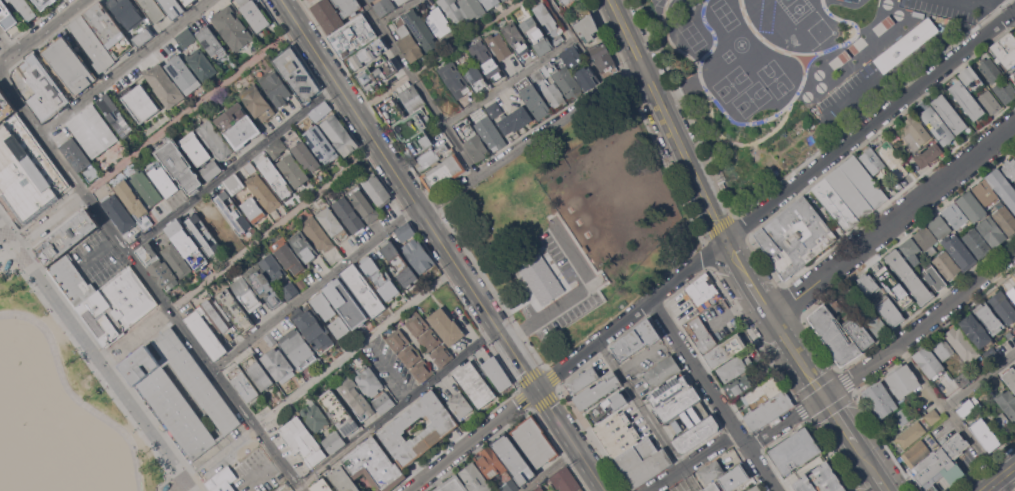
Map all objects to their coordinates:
building: (9, 0)
building: (371, 0)
building: (504, 0)
building: (189, 2)
building: (565, 2)
building: (45, 3)
building: (490, 3)
road: (297, 5)
building: (384, 6)
building: (173, 7)
building: (348, 7)
road: (982, 7)
building: (473, 8)
building: (25, 9)
building: (152, 9)
building: (128, 12)
road: (396, 12)
building: (455, 13)
building: (254, 14)
building: (7, 15)
building: (328, 15)
building: (545, 17)
building: (954, 18)
building: (439, 21)
building: (231, 27)
building: (587, 27)
building: (108, 29)
building: (421, 29)
road: (41, 33)
building: (352, 35)
building: (143, 37)
building: (186, 38)
building: (516, 39)
building: (558, 40)
building: (408, 41)
building: (92, 42)
building: (212, 43)
road: (7, 44)
road: (578, 44)
building: (542, 45)
building: (906, 45)
building: (498, 46)
building: (1005, 49)
building: (368, 53)
building: (571, 55)
road: (443, 56)
building: (602, 58)
building: (487, 60)
building: (200, 63)
building: (70, 65)
road: (124, 66)
building: (990, 69)
building: (296, 73)
building: (183, 74)
building: (377, 74)
building: (1013, 76)
building: (476, 77)
building: (454, 78)
building: (586, 78)
building: (970, 78)
building: (566, 82)
building: (163, 83)
road: (510, 83)
building: (276, 87)
road: (419, 87)
building: (43, 88)
building: (549, 88)
building: (1005, 91)
building: (410, 96)
building: (533, 98)
building: (966, 100)
building: (988, 101)
building: (140, 102)
building: (257, 102)
building: (5, 107)
building: (494, 109)
building: (320, 110)
building: (391, 113)
building: (949, 113)
building: (115, 115)
building: (515, 120)
building: (238, 125)
road: (869, 125)
building: (937, 125)
building: (411, 127)
building: (917, 130)
building: (93, 131)
building: (489, 132)
road: (159, 134)
building: (339, 134)
building: (906, 136)
road: (532, 138)
building: (214, 139)
road: (678, 140)
building: (475, 142)
building: (418, 143)
building: (321, 144)
building: (276, 147)
building: (195, 148)
building: (303, 152)
building: (76, 154)
building: (928, 155)
building: (430, 156)
building: (892, 158)
building: (263, 160)
building: (872, 160)
building: (178, 164)
road: (233, 168)
building: (251, 168)
building: (212, 169)
building: (293, 169)
building: (1010, 169)
building: (27, 172)
building: (443, 173)
building: (274, 178)
building: (163, 180)
building: (234, 184)
building: (857, 187)
building: (1003, 187)
building: (1014, 187)
building: (146, 188)
building: (378, 191)
building: (263, 192)
building: (986, 192)
building: (131, 198)
building: (364, 203)
building: (835, 204)
building: (972, 206)
building: (253, 209)
building: (232, 211)
building: (119, 212)
building: (956, 215)
building: (349, 216)
building: (1005, 218)
road: (894, 221)
building: (332, 224)
building: (940, 227)
building: (405, 231)
building: (992, 232)
building: (317, 234)
building: (204, 235)
building: (67, 237)
building: (795, 237)
building: (927, 241)
building: (977, 243)
building: (188, 244)
road: (443, 245)
building: (0, 246)
building: (303, 246)
road: (97, 249)
building: (911, 250)
building: (959, 251)
building: (146, 252)
road: (244, 253)
building: (287, 255)
building: (418, 255)
building: (176, 260)
building: (8, 263)
building: (399, 263)
building: (899, 263)
building: (947, 265)
building: (273, 267)
building: (1014, 273)
building: (163, 274)
building: (380, 277)
building: (541, 277)
building: (935, 278)
building: (72, 282)
road: (150, 282)
building: (891, 282)
building: (301, 283)
building: (868, 283)
building: (263, 284)
parking lot: (586, 284)
road: (316, 287)
building: (918, 287)
building: (702, 289)
building: (290, 290)
building: (363, 290)
building: (246, 293)
road: (576, 293)
road: (761, 297)
building: (347, 303)
building: (323, 305)
building: (117, 306)
building: (834, 306)
building: (1003, 307)
building: (236, 310)
building: (890, 311)
building: (989, 318)
building: (875, 322)
building: (417, 324)
building: (210, 326)
building: (446, 326)
road: (920, 326)
building: (340, 327)
building: (313, 328)
building: (976, 330)
building: (859, 332)
building: (835, 334)
building: (702, 335)
building: (228, 336)
building: (430, 339)
building: (636, 339)
building: (271, 340)
building: (398, 340)
building: (962, 343)
building: (298, 348)
building: (943, 348)
building: (726, 350)
road: (103, 353)
building: (410, 355)
building: (442, 355)
building: (992, 355)
road: (798, 356)
building: (929, 362)
building: (278, 365)
road: (567, 365)
building: (1014, 365)
building: (735, 367)
road: (393, 370)
building: (422, 371)
building: (662, 371)
building: (258, 372)
building: (497, 373)
building: (1009, 377)
road: (314, 378)
building: (962, 379)
building: (582, 380)
building: (902, 380)
building: (369, 381)
road: (981, 383)
building: (244, 384)
building: (475, 384)
building: (739, 386)
building: (668, 390)
building: (597, 391)
building: (180, 392)
building: (978, 393)
road: (713, 395)
road: (74, 396)
building: (759, 396)
building: (356, 397)
building: (739, 398)
building: (880, 400)
building: (384, 402)
building: (1007, 402)
building: (677, 404)
building: (461, 405)
building: (608, 406)
road: (398, 407)
building: (965, 408)
building: (338, 411)
building: (769, 411)
road: (948, 411)
building: (905, 414)
building: (315, 416)
road: (648, 416)
building: (934, 416)
road: (840, 419)
road: (785, 421)
building: (1002, 424)
building: (440, 428)
park: (15, 430)
building: (696, 434)
building: (911, 434)
building: (985, 434)
building: (302, 440)
building: (334, 441)
building: (535, 441)
building: (631, 449)
building: (795, 450)
building: (915, 453)
road: (866, 458)
building: (514, 459)
road: (692, 461)
building: (491, 463)
building: (942, 464)
building: (374, 465)
road: (265, 468)
road: (549, 470)
building: (711, 471)
building: (475, 478)
road: (999, 478)
building: (343, 479)
building: (564, 479)
building: (223, 480)
building: (730, 480)
building: (820, 480)
road: (881, 482)
road: (1005, 484)
building: (453, 485)
building: (321, 486)
building: (509, 486)
building: (166, 487)
road: (294, 488)
building: (538, 488)
building: (756, 488)
building: (581, 489)

